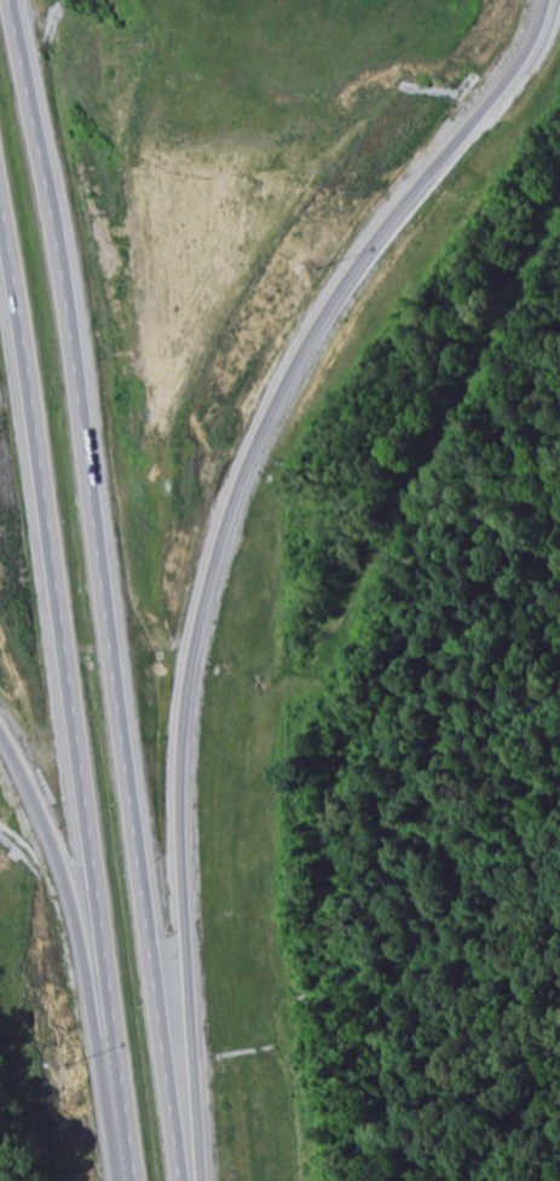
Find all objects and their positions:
road: (272, 462)
road: (105, 589)
road: (68, 701)
road: (58, 794)

